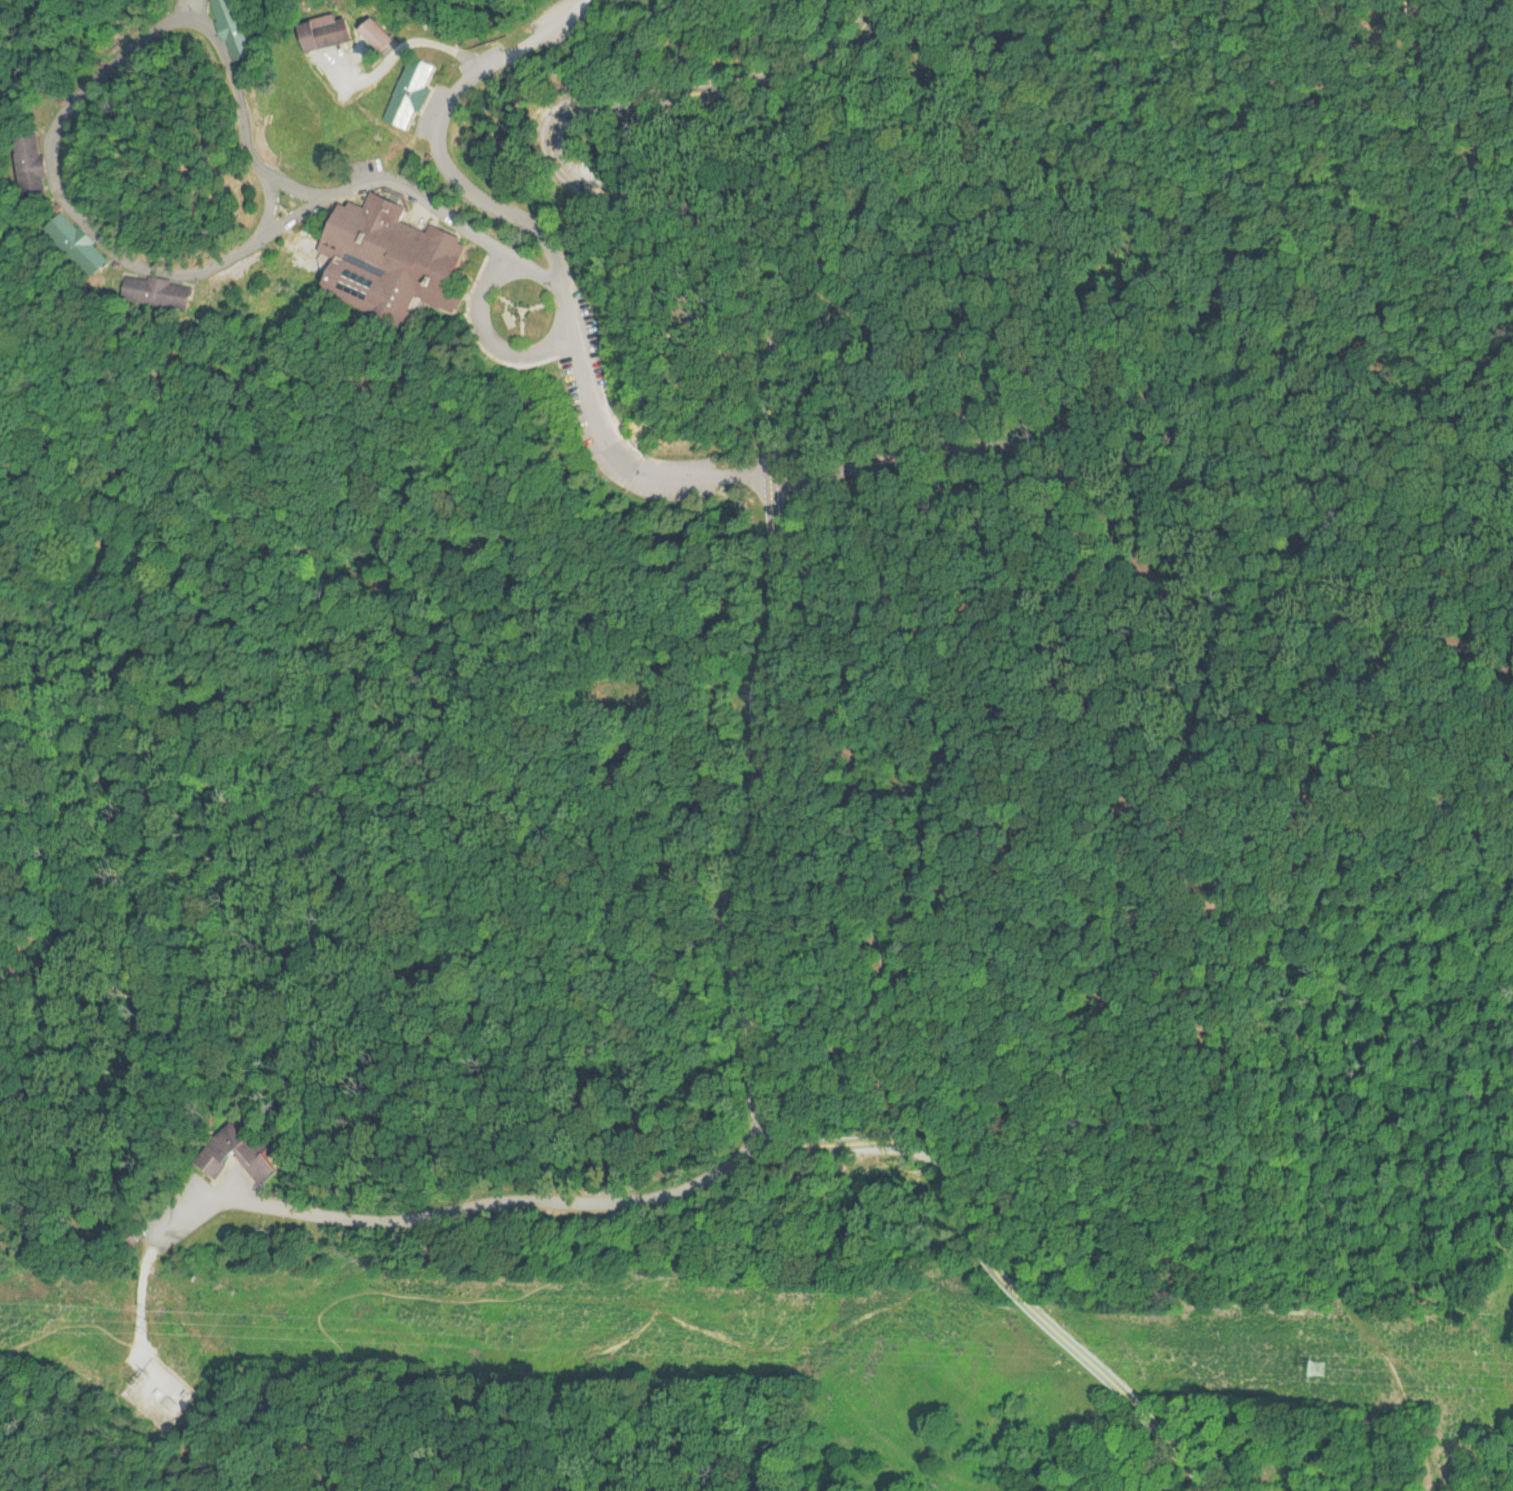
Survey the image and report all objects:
building: (242, 31)
building: (379, 34)
building: (330, 36)
road: (406, 41)
road: (136, 51)
building: (415, 93)
road: (442, 131)
building: (29, 160)
road: (580, 173)
road: (271, 209)
building: (76, 244)
building: (409, 267)
road: (527, 269)
building: (157, 292)
road: (1025, 455)
road: (940, 651)
road: (736, 874)
road: (1160, 965)
building: (237, 1156)
road: (381, 1214)
road: (329, 1304)
road: (1049, 1323)

